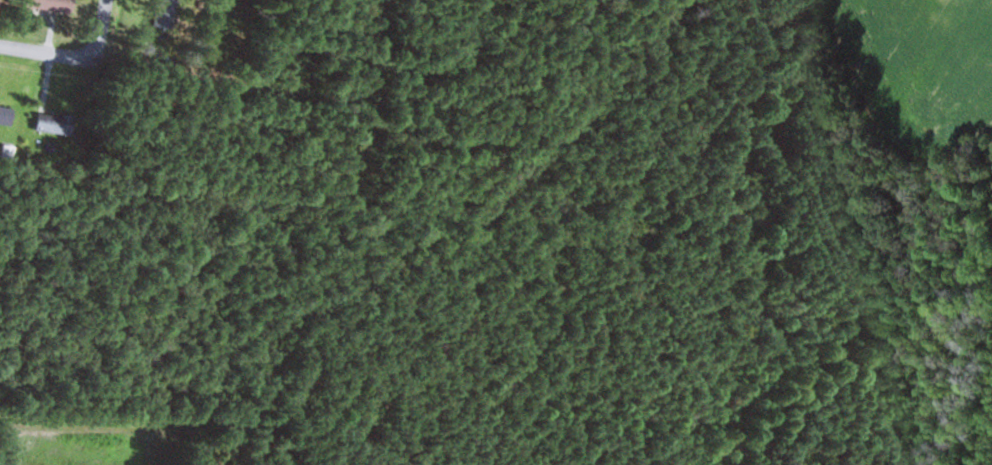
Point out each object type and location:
building: (0, 0)
building: (53, 5)
building: (166, 14)
road: (102, 21)
road: (52, 53)
building: (6, 113)
building: (55, 124)

